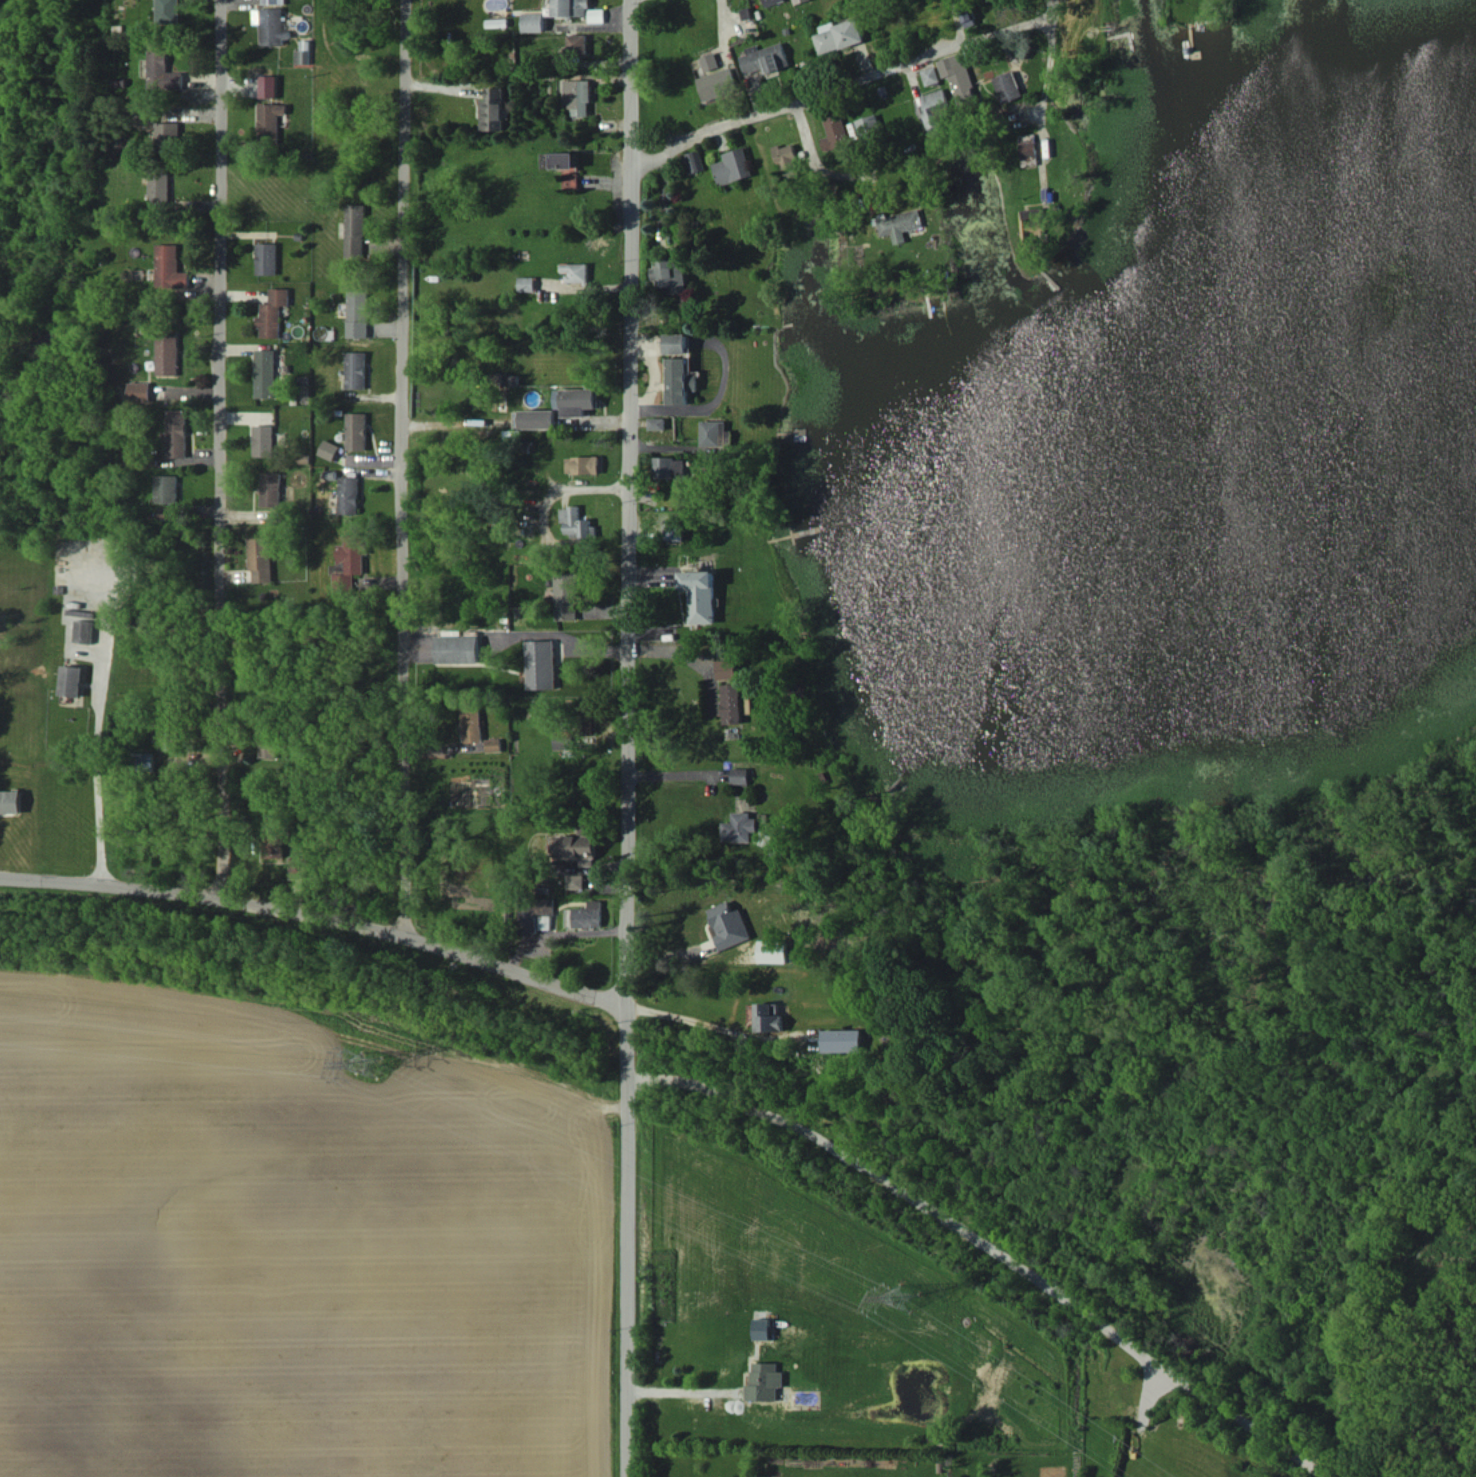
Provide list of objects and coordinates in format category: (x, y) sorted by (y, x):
building: (985, 0)
building: (271, 1)
building: (798, 1)
building: (771, 2)
building: (571, 8)
building: (169, 11)
building: (597, 15)
building: (533, 22)
building: (272, 25)
building: (839, 35)
building: (578, 42)
building: (303, 56)
building: (764, 58)
road: (1045, 59)
building: (561, 61)
building: (709, 61)
building: (163, 71)
building: (930, 75)
building: (958, 78)
building: (717, 83)
building: (269, 86)
building: (1009, 86)
road: (836, 91)
building: (578, 96)
building: (495, 109)
building: (935, 110)
building: (269, 120)
building: (869, 125)
building: (835, 132)
building: (170, 133)
building: (1028, 147)
building: (786, 156)
building: (564, 160)
building: (693, 161)
road: (816, 161)
building: (732, 166)
building: (161, 191)
building: (900, 224)
building: (1033, 225)
building: (356, 230)
building: (268, 258)
building: (171, 268)
building: (576, 272)
building: (670, 274)
building: (528, 284)
building: (275, 313)
building: (359, 313)
building: (675, 343)
building: (168, 353)
building: (359, 370)
building: (268, 373)
building: (679, 380)
building: (140, 391)
building: (576, 401)
building: (536, 418)
building: (656, 423)
building: (359, 431)
building: (178, 433)
building: (714, 433)
building: (265, 440)
road: (222, 449)
building: (331, 449)
building: (584, 464)
building: (669, 467)
road: (404, 469)
building: (167, 488)
building: (272, 489)
road: (564, 489)
building: (350, 495)
building: (577, 522)
building: (675, 530)
building: (261, 558)
building: (350, 561)
building: (700, 595)
building: (567, 596)
building: (84, 631)
building: (458, 649)
building: (541, 664)
building: (727, 669)
building: (71, 680)
building: (748, 701)
building: (732, 703)
building: (472, 723)
road: (618, 738)
building: (169, 739)
building: (563, 740)
building: (267, 743)
building: (493, 744)
building: (739, 775)
road: (671, 776)
road: (98, 783)
building: (10, 801)
building: (740, 828)
building: (274, 840)
building: (580, 845)
building: (297, 866)
building: (575, 881)
road: (743, 892)
building: (533, 912)
building: (586, 915)
road: (308, 917)
building: (729, 925)
building: (773, 951)
road: (691, 1014)
building: (769, 1017)
building: (843, 1039)
power tower: (368, 1063)
power tower: (905, 1292)
building: (763, 1329)
building: (765, 1381)
road: (678, 1392)

